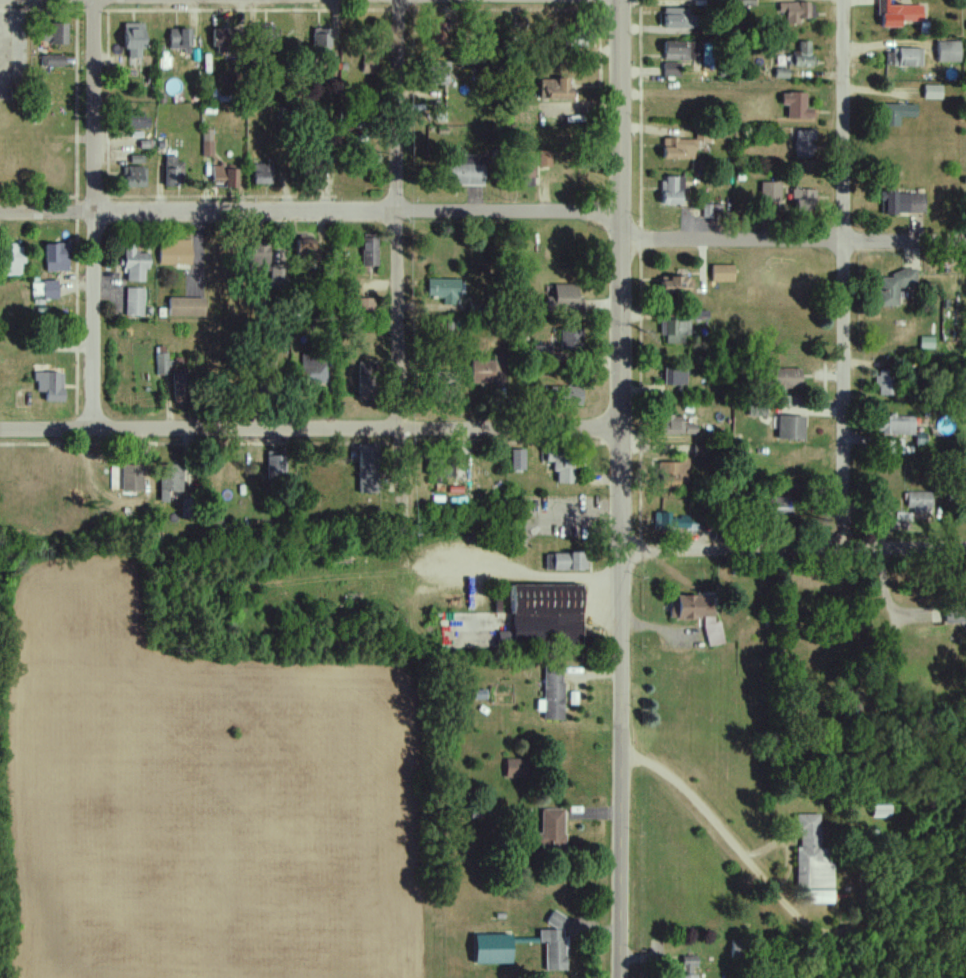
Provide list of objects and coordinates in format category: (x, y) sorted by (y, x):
building: (794, 12)
building: (903, 13)
building: (680, 18)
building: (57, 33)
building: (135, 35)
building: (216, 37)
building: (266, 37)
building: (179, 38)
building: (232, 39)
building: (320, 41)
building: (683, 50)
building: (950, 52)
building: (797, 56)
building: (909, 57)
building: (56, 60)
building: (369, 63)
building: (673, 72)
building: (437, 73)
building: (554, 90)
building: (934, 92)
building: (798, 106)
building: (898, 113)
building: (354, 116)
building: (132, 119)
building: (704, 135)
building: (803, 144)
building: (677, 149)
building: (175, 171)
building: (461, 171)
building: (524, 172)
building: (312, 173)
building: (261, 174)
building: (134, 176)
building: (223, 176)
building: (772, 191)
building: (804, 200)
building: (905, 202)
road: (310, 211)
road: (95, 215)
road: (792, 241)
building: (307, 252)
building: (370, 252)
building: (176, 253)
building: (57, 257)
building: (257, 259)
building: (12, 260)
building: (136, 265)
building: (723, 274)
road: (844, 274)
road: (620, 275)
building: (279, 276)
building: (675, 283)
building: (895, 286)
building: (46, 290)
road: (398, 291)
building: (444, 291)
building: (565, 299)
building: (135, 302)
building: (187, 308)
building: (366, 309)
building: (453, 327)
building: (676, 332)
building: (572, 339)
building: (45, 345)
building: (163, 365)
building: (488, 372)
building: (676, 376)
building: (267, 378)
building: (368, 380)
building: (785, 380)
building: (888, 382)
building: (181, 385)
building: (51, 386)
building: (445, 387)
building: (562, 396)
building: (896, 425)
building: (676, 426)
building: (792, 429)
road: (310, 431)
building: (519, 460)
building: (276, 464)
building: (566, 466)
building: (440, 467)
building: (369, 468)
building: (672, 472)
building: (131, 478)
building: (170, 480)
building: (920, 502)
building: (782, 506)
building: (190, 507)
building: (680, 523)
road: (793, 549)
building: (565, 562)
building: (955, 611)
building: (545, 616)
building: (697, 616)
building: (554, 693)
road: (622, 764)
building: (519, 769)
building: (553, 833)
road: (743, 855)
building: (813, 855)
building: (556, 945)
building: (741, 950)
building: (690, 968)

